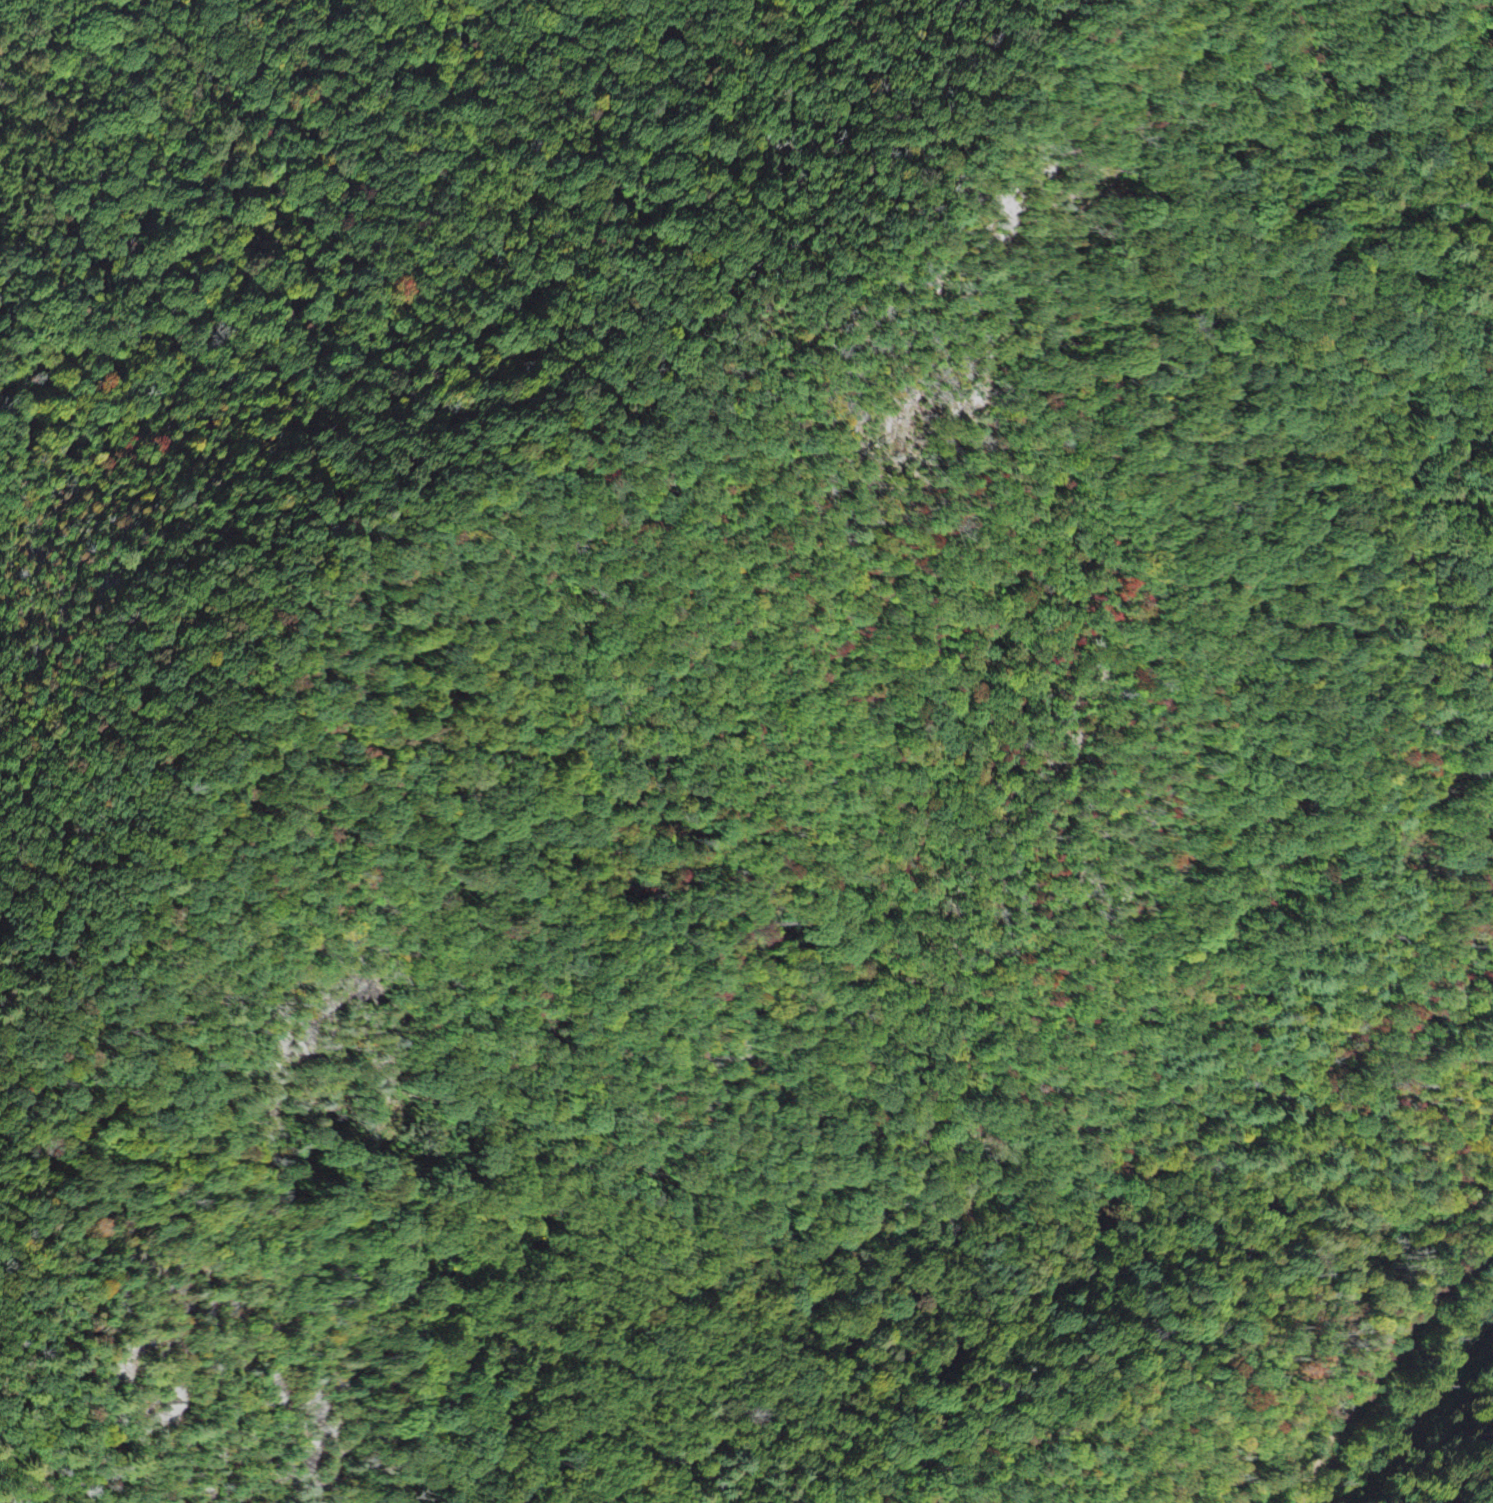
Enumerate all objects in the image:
road: (1414, 1282)

